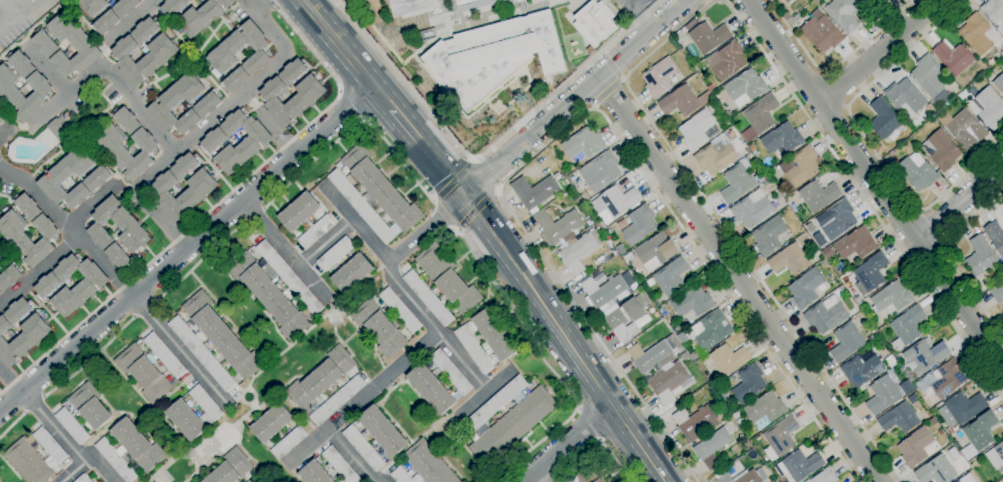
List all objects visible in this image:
building: (787, 1)
building: (863, 1)
building: (884, 1)
building: (879, 2)
building: (471, 5)
building: (93, 6)
road: (248, 6)
road: (260, 6)
building: (408, 6)
building: (173, 7)
road: (321, 7)
building: (428, 9)
road: (25, 10)
building: (994, 12)
building: (115, 15)
road: (639, 15)
building: (844, 15)
building: (786, 16)
building: (202, 17)
building: (793, 20)
road: (129, 21)
building: (596, 22)
building: (690, 25)
building: (821, 33)
building: (976, 34)
building: (708, 37)
building: (46, 45)
road: (880, 52)
road: (346, 53)
building: (161, 54)
road: (602, 54)
building: (495, 55)
building: (221, 57)
building: (954, 58)
building: (726, 61)
road: (611, 67)
road: (832, 67)
road: (47, 68)
road: (108, 74)
building: (928, 76)
road: (623, 78)
building: (659, 78)
building: (998, 83)
building: (41, 87)
building: (745, 88)
road: (835, 90)
road: (607, 91)
building: (309, 95)
road: (574, 98)
building: (905, 98)
building: (683, 101)
building: (209, 103)
road: (232, 103)
road: (352, 105)
road: (594, 106)
building: (989, 108)
road: (584, 112)
building: (759, 117)
building: (2, 119)
building: (886, 121)
building: (0, 126)
road: (354, 126)
building: (56, 128)
building: (963, 129)
building: (698, 130)
road: (4, 131)
building: (782, 139)
road: (864, 139)
building: (211, 143)
building: (110, 145)
building: (582, 145)
building: (941, 150)
road: (489, 151)
road: (427, 152)
building: (716, 156)
road: (474, 160)
building: (798, 168)
building: (600, 172)
building: (917, 172)
road: (484, 175)
building: (98, 178)
road: (455, 180)
building: (737, 182)
road: (876, 183)
building: (201, 189)
road: (497, 189)
building: (782, 191)
building: (534, 192)
building: (375, 195)
building: (818, 196)
traffic signals: (465, 197)
building: (584, 197)
road: (434, 200)
road: (865, 200)
building: (615, 202)
road: (960, 203)
road: (93, 204)
road: (215, 205)
road: (477, 208)
building: (299, 211)
building: (753, 211)
road: (444, 215)
road: (162, 217)
road: (255, 217)
building: (836, 220)
building: (639, 225)
road: (69, 227)
building: (559, 227)
road: (428, 229)
road: (458, 229)
road: (932, 229)
building: (11, 230)
building: (316, 231)
building: (135, 232)
road: (727, 233)
building: (768, 236)
building: (995, 237)
road: (326, 243)
building: (856, 244)
road: (187, 249)
road: (285, 251)
building: (655, 251)
building: (827, 252)
building: (335, 253)
building: (577, 253)
road: (949, 257)
building: (981, 259)
building: (789, 260)
building: (2, 261)
road: (199, 261)
road: (39, 270)
building: (352, 272)
building: (870, 274)
building: (671, 277)
building: (9, 278)
building: (447, 278)
road: (738, 279)
building: (46, 286)
building: (275, 288)
building: (805, 288)
road: (403, 290)
building: (603, 291)
building: (997, 293)
building: (428, 298)
building: (891, 299)
building: (692, 302)
road: (144, 308)
building: (400, 310)
building: (825, 315)
building: (624, 319)
building: (907, 327)
building: (379, 328)
building: (711, 331)
building: (34, 334)
building: (222, 335)
building: (495, 335)
road: (565, 338)
building: (846, 342)
building: (474, 349)
road: (180, 351)
building: (201, 353)
building: (165, 355)
building: (694, 355)
building: (649, 356)
building: (684, 356)
building: (925, 356)
road: (91, 359)
building: (727, 360)
road: (546, 362)
building: (890, 362)
building: (861, 369)
building: (144, 372)
building: (451, 372)
building: (321, 378)
building: (947, 379)
road: (10, 380)
building: (667, 382)
building: (749, 384)
building: (431, 389)
road: (485, 394)
building: (882, 395)
road: (363, 398)
building: (726, 398)
building: (337, 401)
building: (931, 403)
building: (494, 404)
road: (34, 405)
building: (90, 407)
building: (965, 407)
building: (765, 410)
building: (194, 414)
building: (736, 415)
building: (899, 418)
building: (727, 420)
building: (694, 421)
building: (272, 423)
building: (740, 423)
road: (589, 424)
road: (13, 425)
building: (71, 426)
building: (512, 426)
building: (382, 431)
building: (978, 434)
building: (703, 437)
building: (780, 438)
building: (288, 442)
road: (66, 443)
road: (597, 443)
road: (565, 444)
building: (50, 445)
building: (363, 448)
building: (712, 448)
building: (916, 448)
building: (130, 450)
road: (351, 455)
building: (996, 456)
building: (28, 462)
building: (340, 465)
building: (800, 465)
building: (424, 466)
building: (231, 468)
building: (935, 471)
road: (71, 472)
building: (314, 473)
building: (592, 474)
road: (539, 475)
building: (753, 476)
building: (824, 477)
building: (724, 478)
building: (83, 479)
building: (255, 479)
road: (552, 480)
building: (961, 480)
building: (247, 481)

